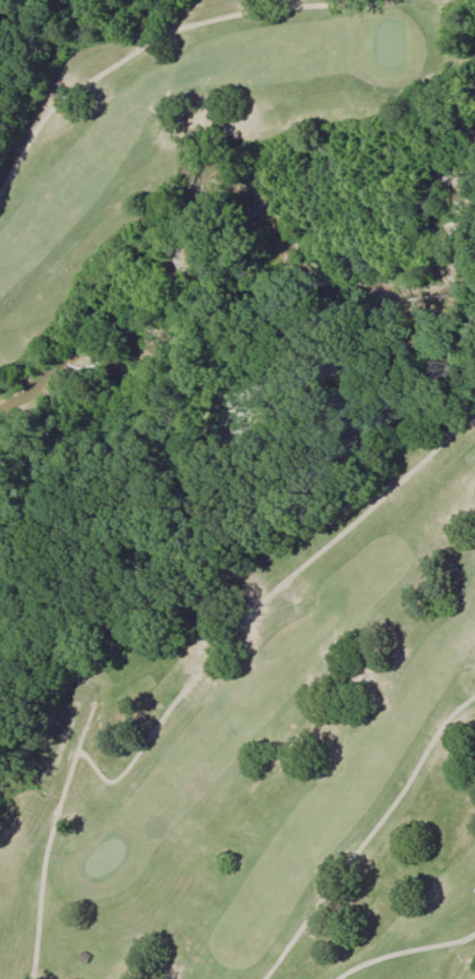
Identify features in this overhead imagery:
park: (238, 490)

